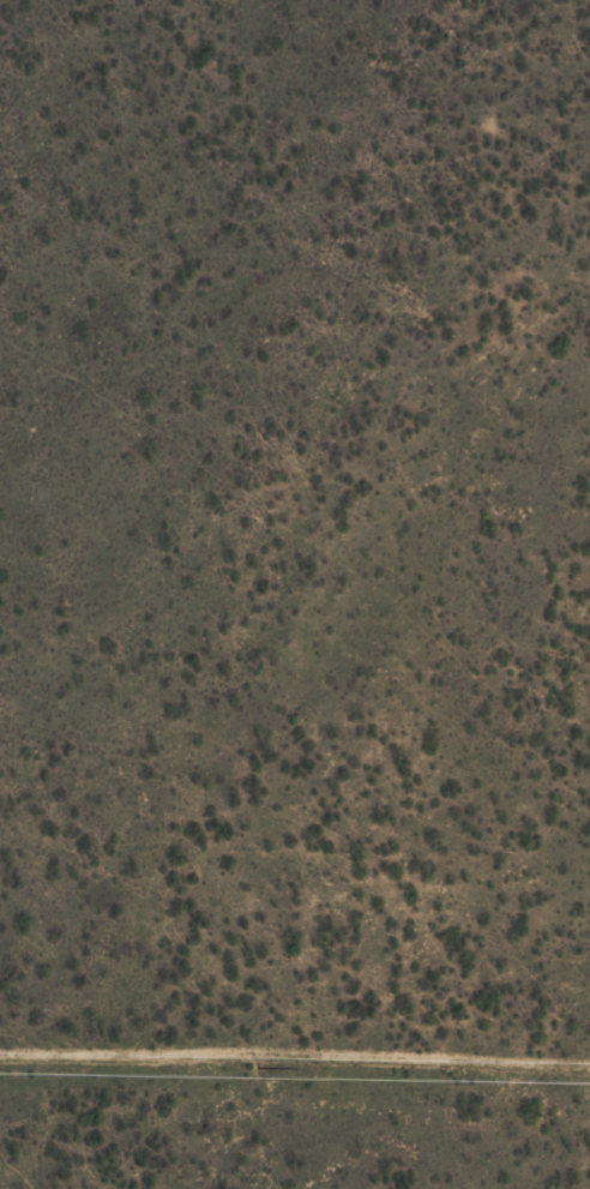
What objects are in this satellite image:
power tower: (257, 1065)

